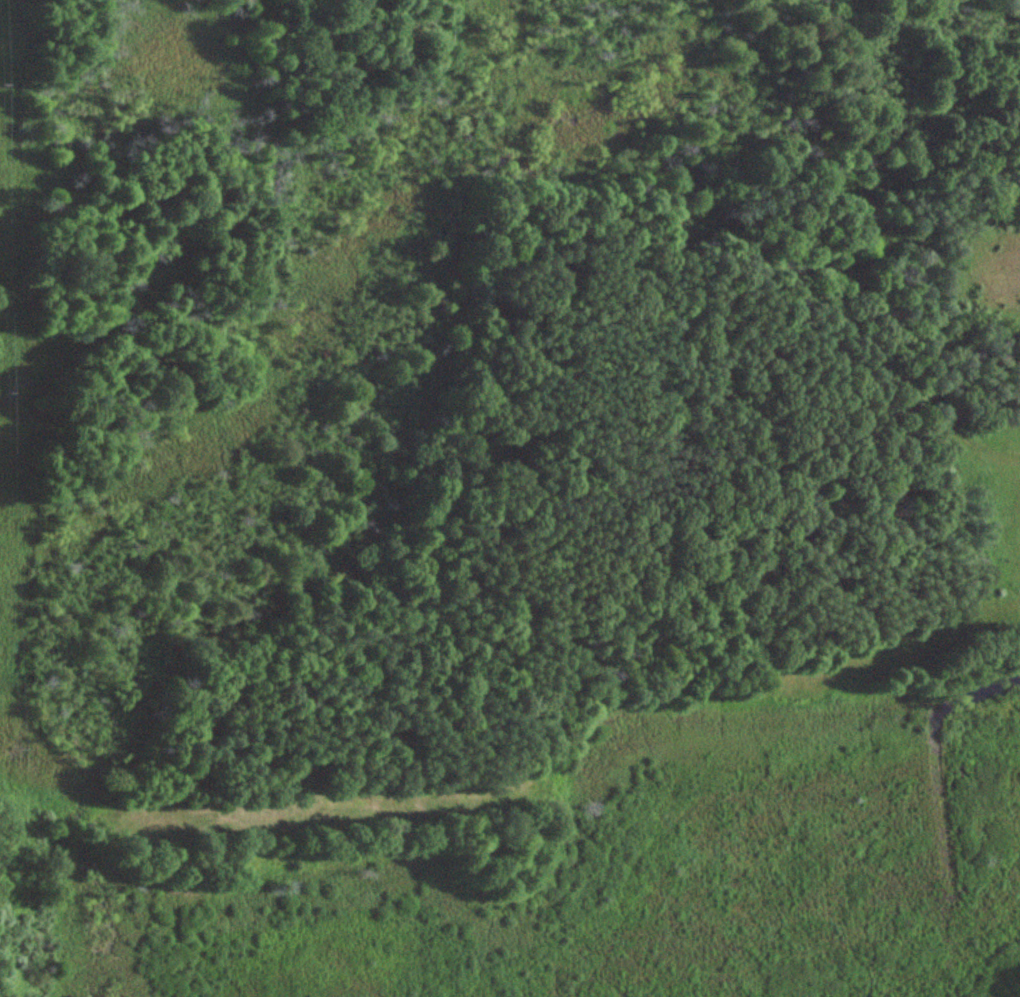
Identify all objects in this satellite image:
road: (798, 409)

